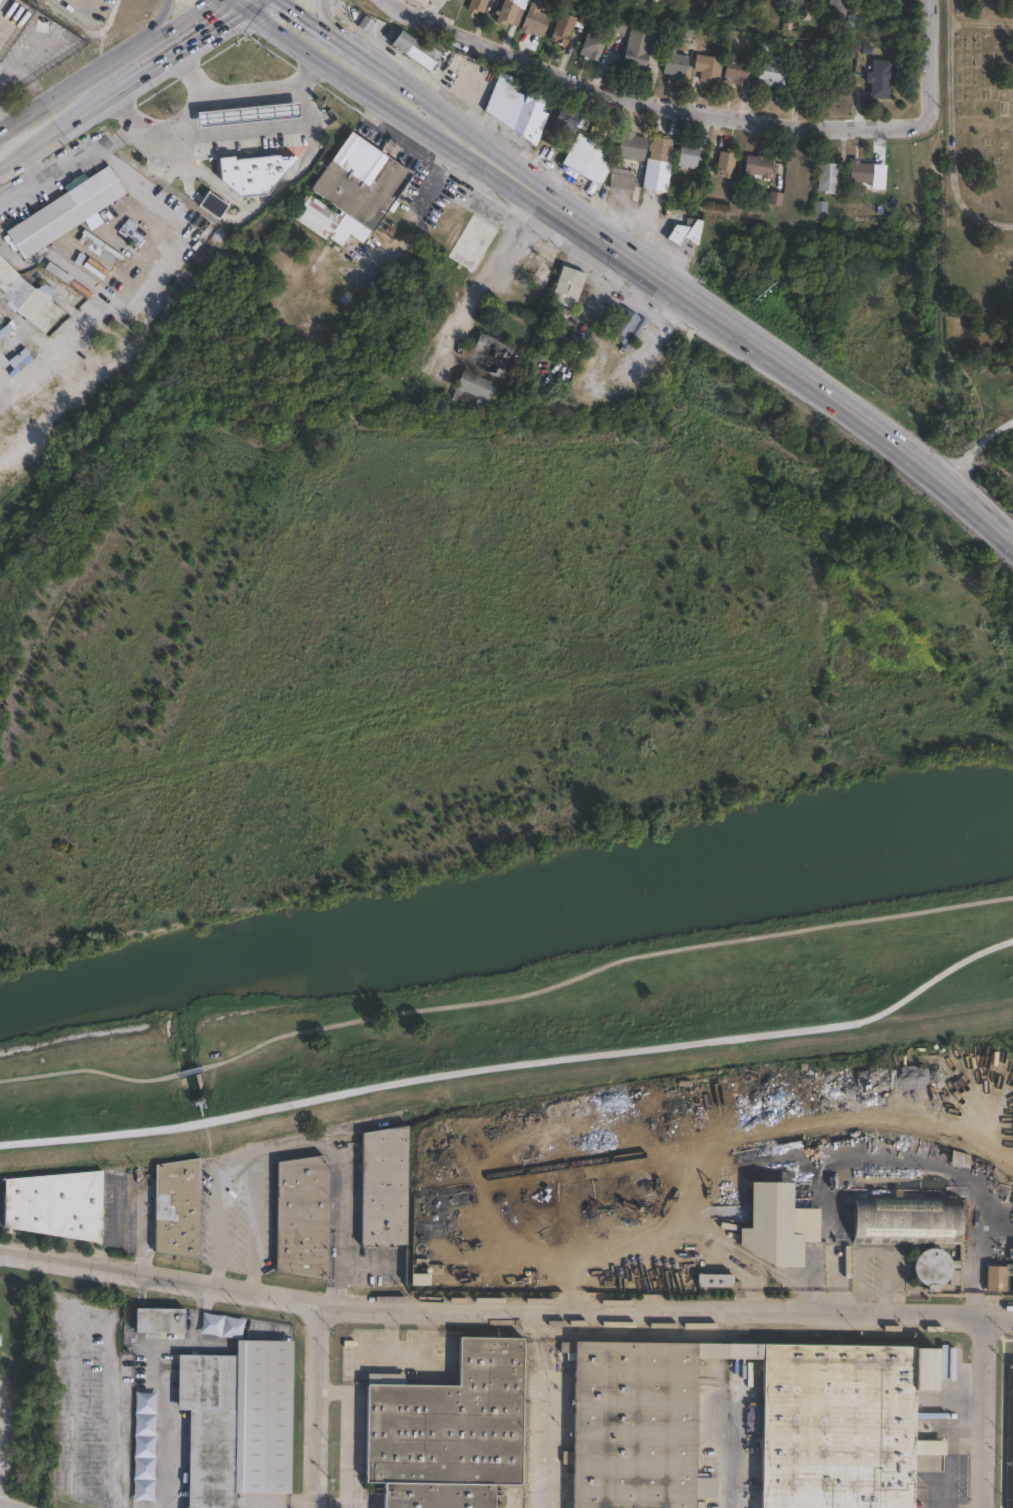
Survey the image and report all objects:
building: (461, 0)
building: (780, 0)
building: (456, 1)
road: (253, 5)
building: (479, 5)
building: (840, 7)
traffic signals: (245, 11)
building: (510, 11)
building: (536, 19)
building: (792, 21)
building: (620, 24)
building: (569, 26)
road: (172, 27)
road: (323, 27)
road: (152, 28)
road: (338, 29)
road: (192, 44)
building: (593, 44)
building: (642, 44)
building: (418, 50)
building: (808, 50)
building: (676, 65)
building: (708, 68)
building: (737, 71)
building: (775, 72)
building: (807, 75)
building: (882, 78)
building: (824, 80)
road: (69, 91)
road: (228, 96)
road: (380, 103)
building: (518, 107)
road: (712, 107)
building: (243, 112)
gas station: (243, 112)
road: (81, 116)
road: (4, 122)
road: (453, 122)
building: (565, 123)
road: (4, 131)
road: (155, 133)
road: (952, 133)
road: (237, 134)
road: (16, 142)
building: (633, 146)
road: (87, 151)
building: (689, 155)
building: (590, 159)
road: (12, 162)
building: (726, 163)
building: (252, 165)
building: (659, 166)
road: (31, 168)
building: (760, 168)
building: (861, 172)
park: (977, 172)
road: (436, 175)
building: (829, 177)
building: (624, 180)
building: (362, 181)
building: (692, 187)
road: (19, 193)
road: (260, 199)
building: (212, 205)
building: (821, 209)
building: (65, 210)
building: (319, 215)
building: (686, 232)
building: (473, 243)
building: (101, 253)
building: (536, 272)
building: (65, 277)
road: (485, 279)
building: (569, 287)
building: (29, 297)
building: (0, 322)
building: (6, 329)
building: (627, 329)
building: (493, 354)
building: (13, 358)
road: (780, 364)
building: (474, 390)
park: (491, 731)
river: (506, 924)
road: (504, 994)
road: (514, 1058)
road: (292, 1149)
building: (385, 1187)
building: (57, 1204)
building: (178, 1208)
building: (304, 1217)
building: (907, 1219)
road: (253, 1225)
building: (773, 1225)
road: (979, 1255)
building: (418, 1273)
building: (1000, 1277)
building: (715, 1280)
road: (503, 1309)
road: (73, 1314)
building: (160, 1320)
building: (0, 1323)
building: (221, 1325)
building: (839, 1400)
road: (315, 1406)
road: (986, 1413)
building: (259, 1416)
building: (206, 1427)
building: (449, 1430)
road: (345, 1437)
building: (143, 1446)
road: (950, 1448)
road: (725, 1452)
building: (1012, 1486)
road: (115, 1500)
road: (327, 1502)
road: (510, 1504)
road: (1, 1507)

